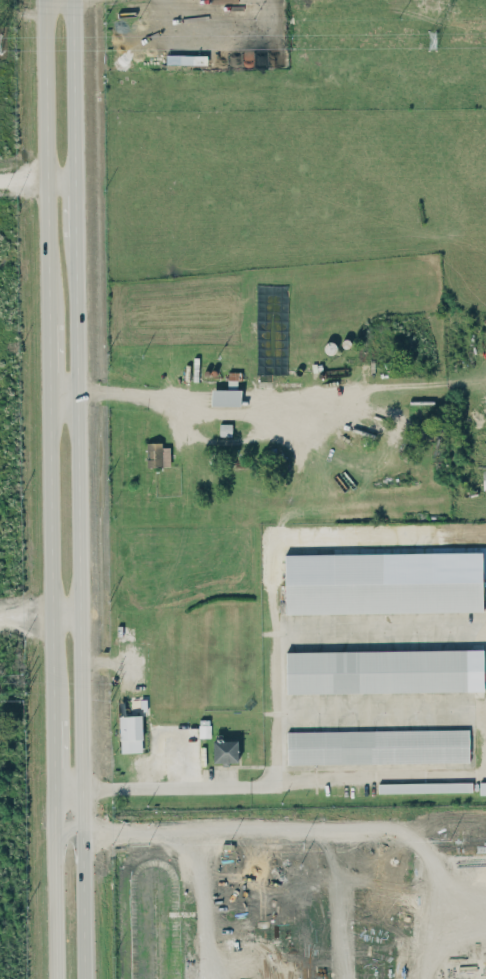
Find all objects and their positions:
road: (204, 36)
power tower: (448, 39)
building: (179, 59)
road: (75, 90)
road: (47, 155)
road: (37, 180)
road: (76, 199)
road: (51, 351)
road: (215, 390)
building: (225, 397)
building: (225, 429)
building: (158, 454)
road: (53, 546)
building: (372, 584)
road: (81, 599)
road: (270, 631)
road: (115, 660)
building: (384, 671)
road: (55, 733)
building: (130, 733)
building: (377, 746)
building: (225, 751)
road: (172, 756)
road: (56, 777)
road: (284, 780)
road: (70, 787)
building: (424, 787)
building: (482, 787)
road: (230, 824)
road: (57, 883)
road: (338, 901)
road: (204, 902)
road: (416, 914)
road: (250, 959)
road: (243, 969)

